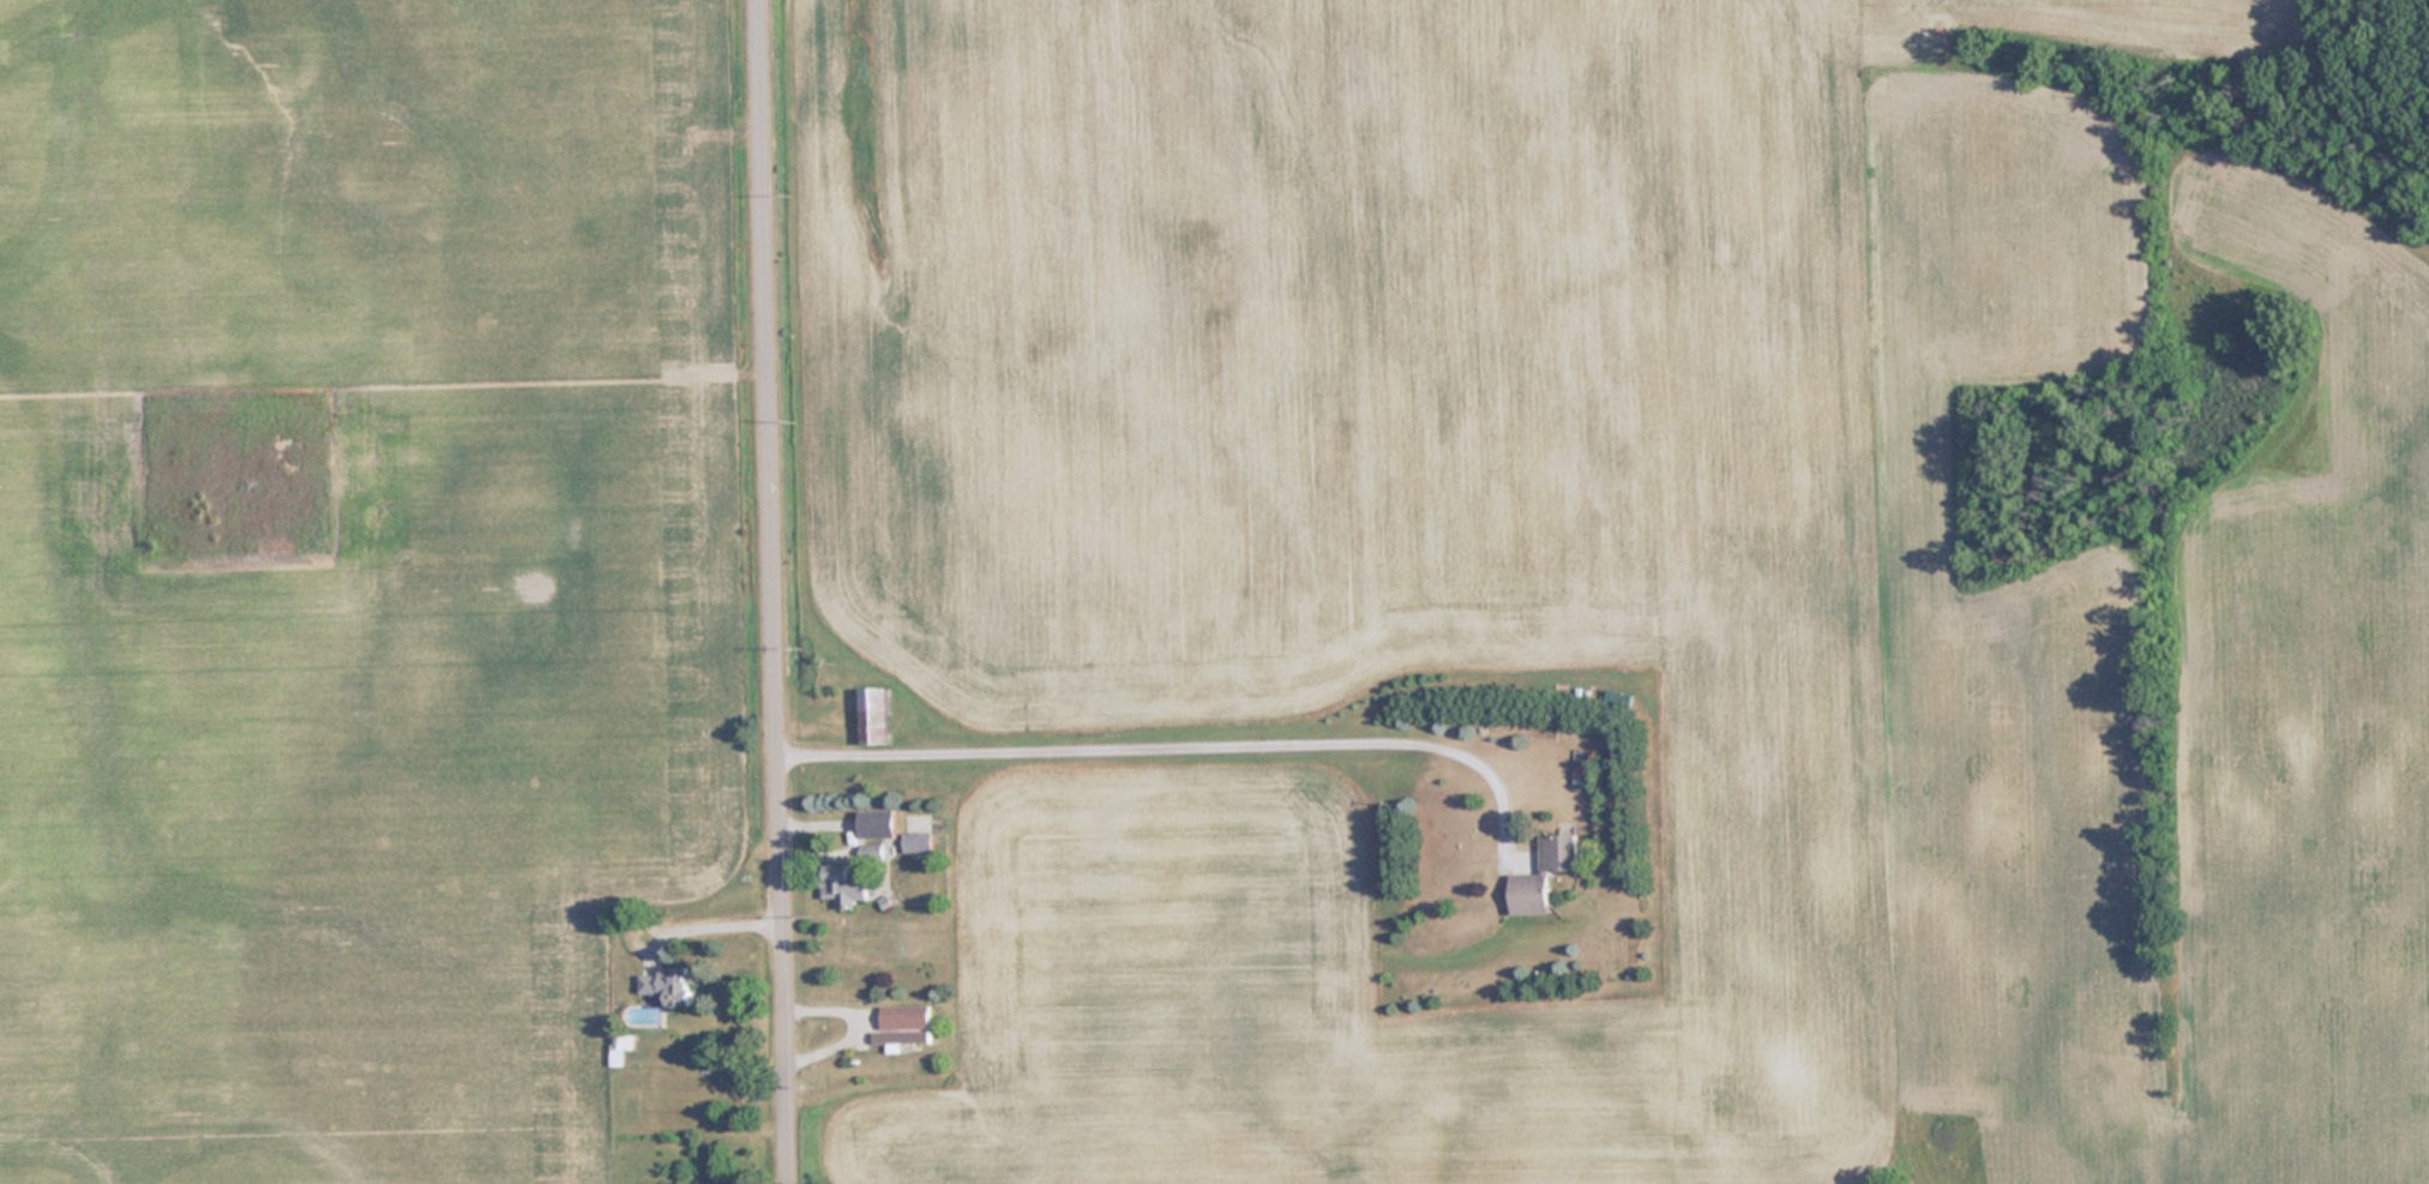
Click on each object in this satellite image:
road: (765, 591)
building: (1617, 698)
building: (873, 716)
road: (1176, 740)
building: (876, 824)
building: (916, 842)
building: (870, 852)
building: (1543, 875)
building: (844, 885)
building: (666, 987)
building: (902, 1026)

